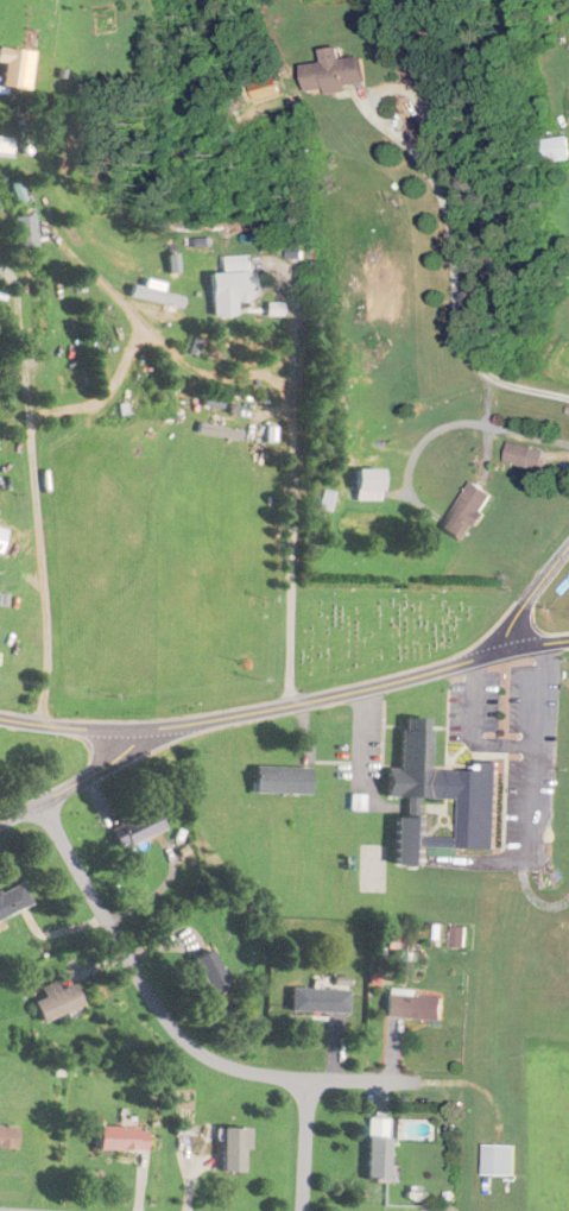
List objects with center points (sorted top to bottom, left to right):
building: (13, 68)
building: (336, 72)
building: (5, 143)
building: (556, 150)
building: (26, 232)
road: (454, 267)
building: (234, 283)
road: (114, 296)
building: (43, 314)
road: (23, 346)
road: (206, 372)
road: (463, 422)
building: (521, 456)
road: (293, 480)
building: (369, 486)
building: (469, 513)
road: (40, 554)
road: (530, 597)
road: (536, 645)
road: (475, 693)
road: (318, 699)
road: (64, 726)
road: (543, 742)
building: (283, 781)
road: (72, 783)
building: (442, 800)
building: (135, 828)
road: (526, 887)
building: (13, 902)
building: (210, 971)
building: (321, 999)
building: (57, 1001)
building: (416, 1005)
road: (184, 1043)
building: (7, 1135)
building: (122, 1139)
road: (303, 1146)
building: (235, 1149)
building: (378, 1158)
building: (499, 1159)

